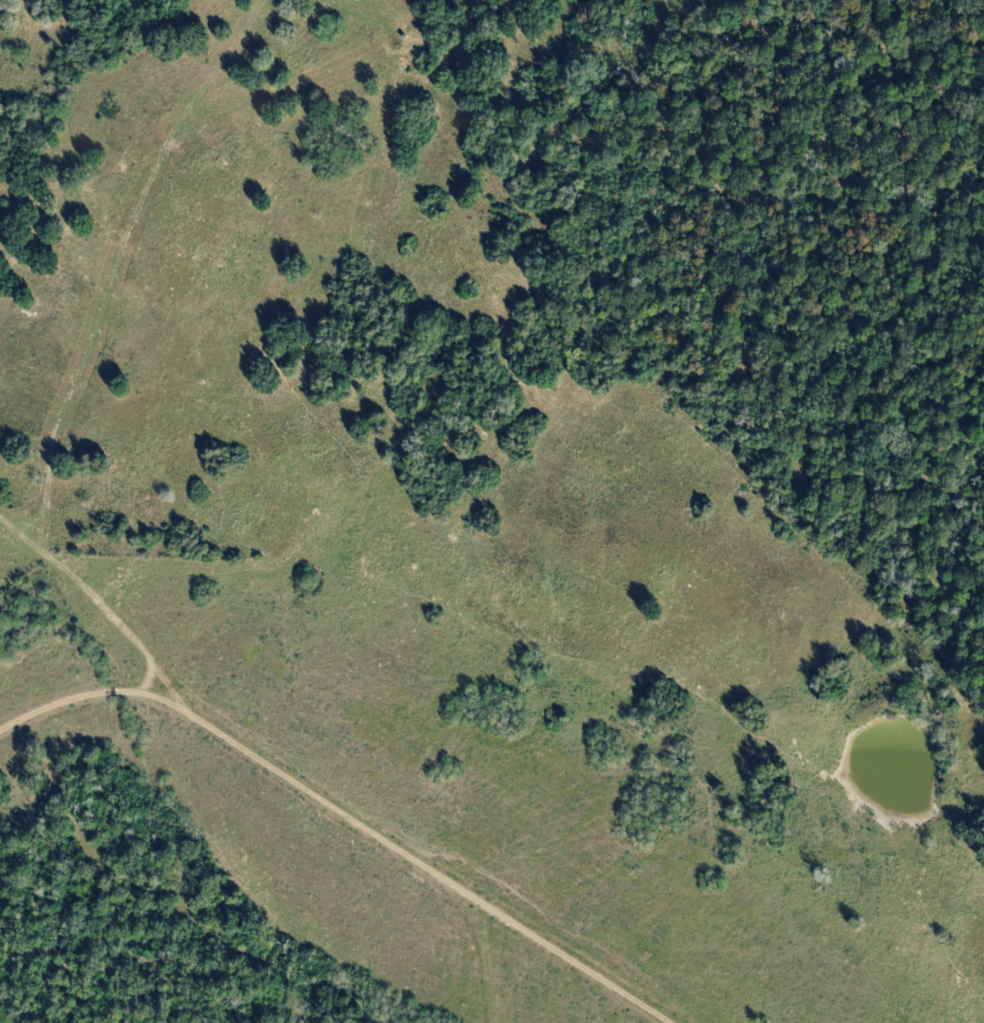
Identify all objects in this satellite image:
road: (347, 814)

